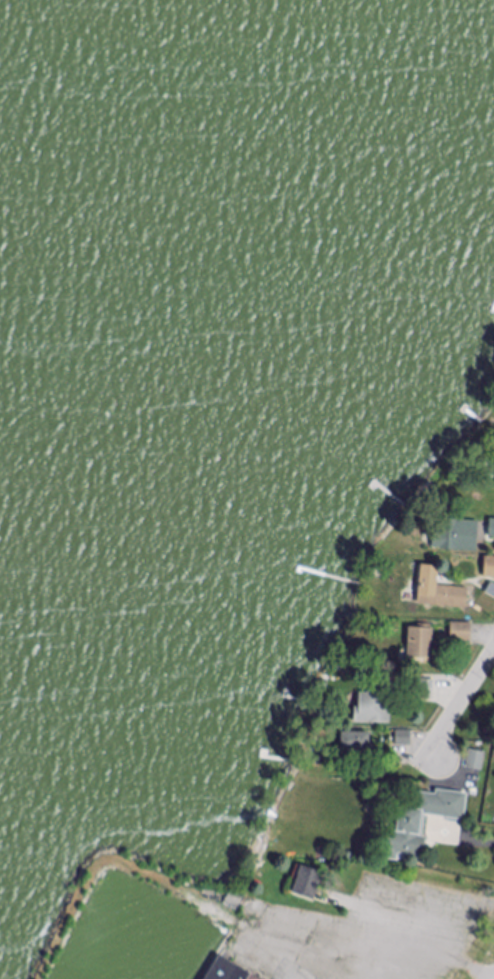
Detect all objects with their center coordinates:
building: (492, 530)
building: (458, 537)
building: (489, 568)
building: (440, 591)
building: (491, 591)
building: (462, 633)
building: (421, 643)
building: (424, 689)
building: (377, 704)
road: (460, 704)
building: (405, 739)
building: (356, 742)
building: (476, 761)
building: (422, 823)
road: (487, 843)
building: (309, 884)
road: (385, 943)
building: (228, 971)

